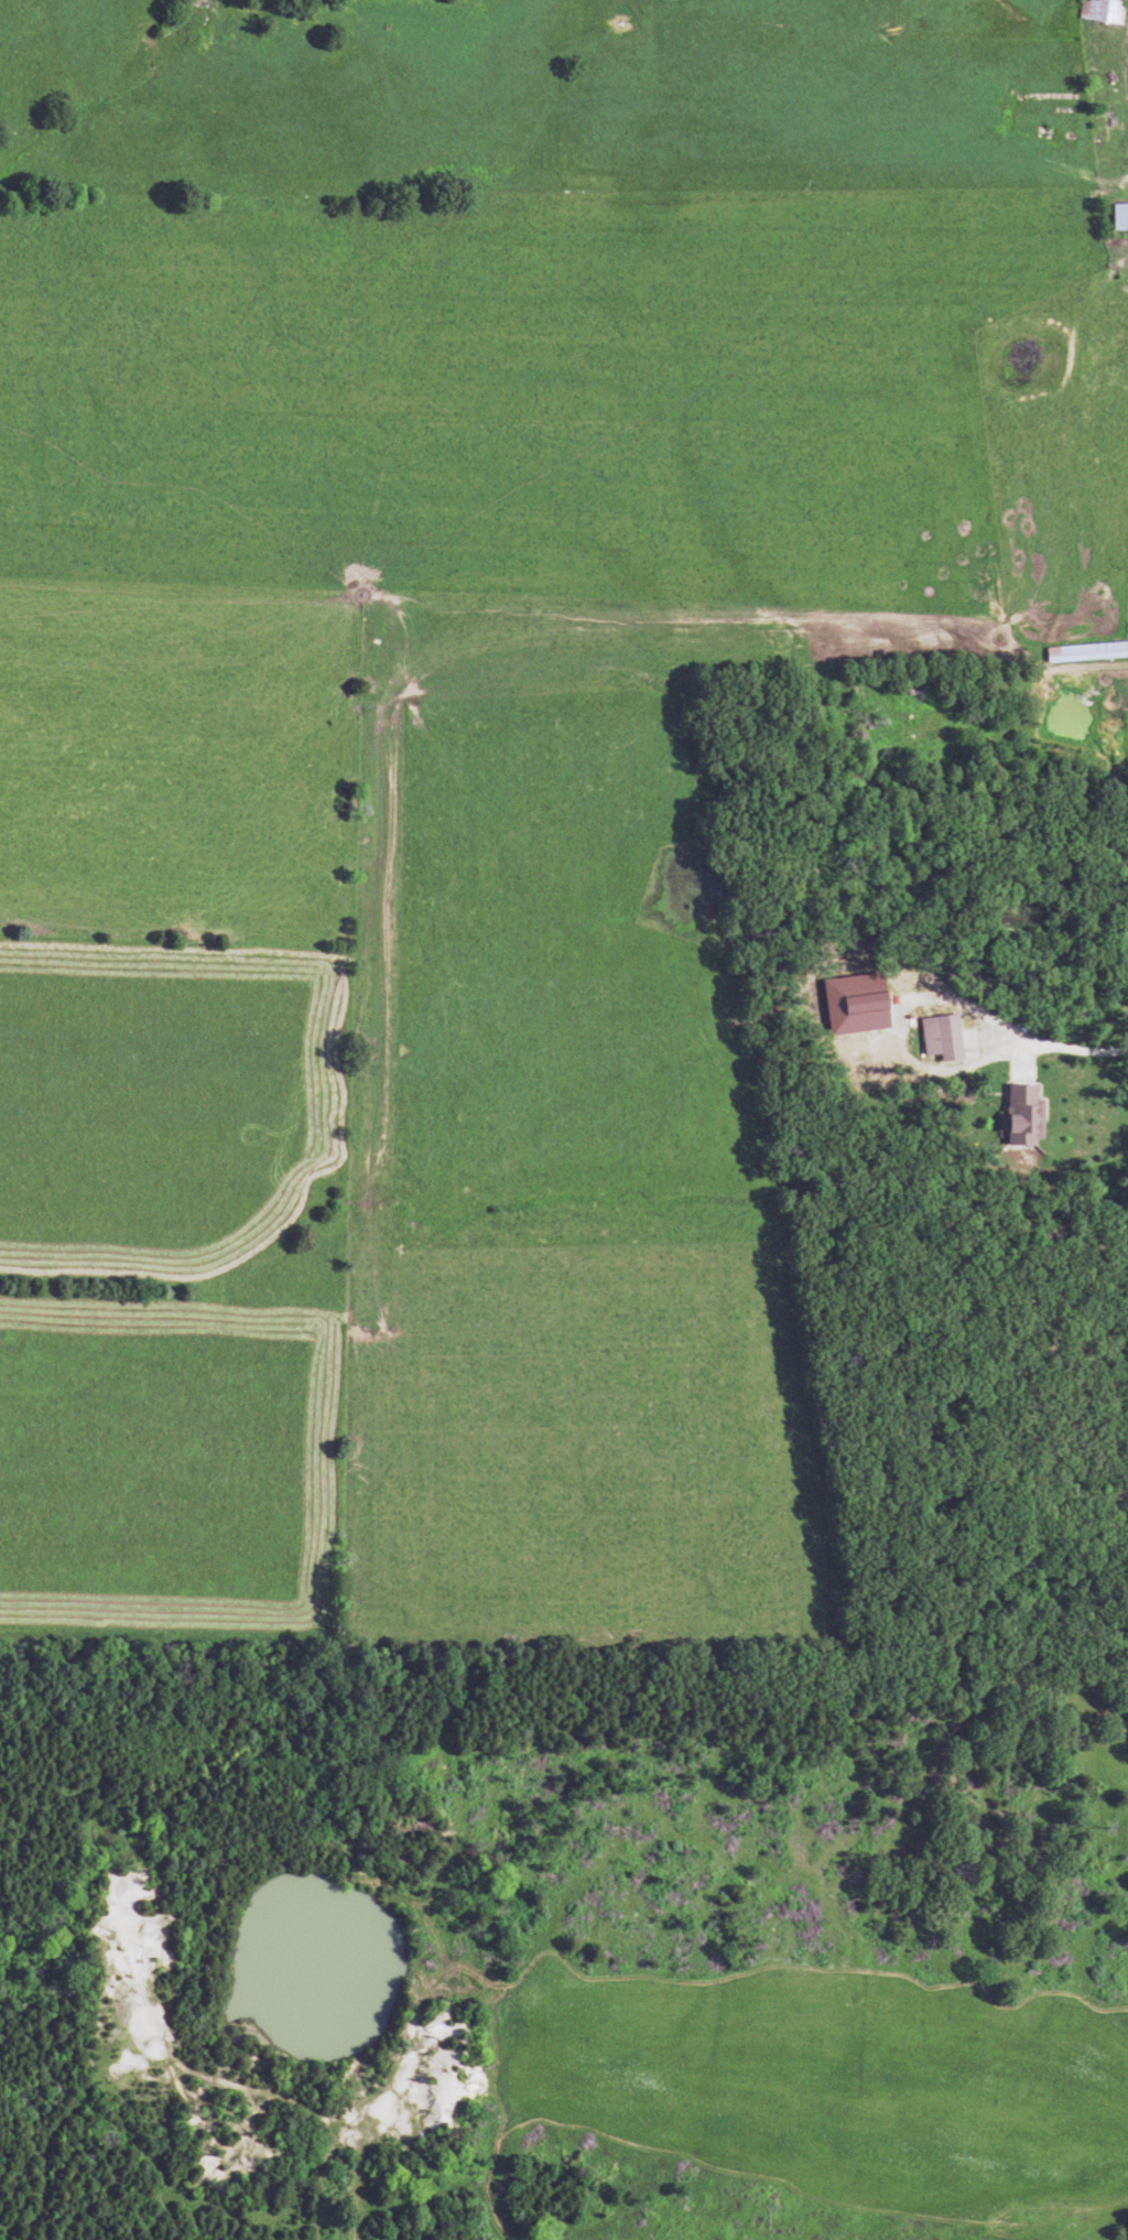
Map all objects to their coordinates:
building: (1098, 11)
building: (1103, 127)
building: (1118, 217)
building: (1085, 652)
building: (939, 1038)
building: (1020, 1116)

